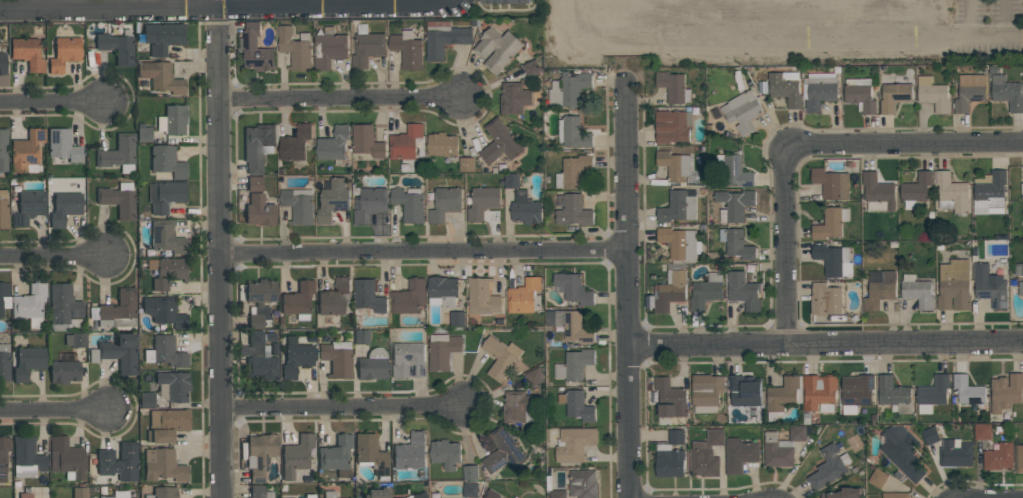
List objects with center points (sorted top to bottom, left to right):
building: (505, 2)
road: (172, 3)
road: (365, 3)
road: (30, 4)
road: (224, 6)
road: (891, 18)
road: (968, 18)
road: (1001, 18)
road: (697, 19)
road: (738, 19)
road: (776, 19)
road: (812, 19)
road: (853, 19)
road: (618, 20)
road: (658, 20)
parking lot: (782, 32)
road: (973, 36)
building: (162, 37)
building: (444, 38)
road: (743, 39)
building: (367, 47)
building: (118, 48)
building: (296, 48)
building: (329, 48)
building: (407, 49)
building: (497, 49)
building: (256, 50)
building: (28, 53)
building: (64, 53)
street lamp: (753, 57)
street lamp: (909, 57)
street lamp: (987, 57)
street lamp: (833, 59)
street lamp: (675, 60)
building: (3, 63)
building: (531, 68)
building: (161, 77)
building: (672, 87)
building: (785, 87)
building: (568, 90)
building: (819, 90)
building: (969, 92)
building: (1007, 93)
building: (860, 95)
building: (933, 95)
building: (894, 97)
road: (341, 99)
building: (514, 99)
road: (53, 101)
building: (742, 112)
building: (172, 120)
building: (672, 127)
building: (573, 133)
building: (144, 134)
building: (367, 142)
building: (295, 143)
building: (405, 143)
building: (499, 143)
building: (63, 144)
building: (333, 144)
building: (442, 144)
road: (805, 144)
building: (258, 146)
building: (3, 150)
building: (27, 152)
building: (119, 153)
building: (167, 161)
building: (466, 165)
building: (674, 165)
building: (734, 171)
building: (573, 172)
building: (512, 181)
building: (254, 183)
building: (831, 184)
building: (1022, 189)
building: (989, 190)
building: (916, 192)
building: (878, 193)
building: (952, 194)
building: (165, 195)
building: (119, 200)
building: (332, 200)
building: (482, 200)
building: (369, 204)
building: (409, 204)
building: (444, 204)
building: (298, 205)
building: (734, 205)
building: (679, 206)
building: (28, 207)
building: (65, 208)
building: (3, 209)
building: (525, 209)
building: (260, 210)
building: (573, 211)
building: (1022, 214)
building: (830, 223)
building: (166, 237)
building: (679, 243)
building: (736, 244)
road: (424, 253)
road: (56, 258)
building: (834, 260)
road: (223, 268)
building: (1019, 270)
building: (166, 271)
building: (954, 285)
building: (990, 286)
building: (573, 288)
road: (625, 288)
building: (670, 288)
building: (1020, 288)
building: (879, 289)
building: (917, 291)
building: (443, 292)
building: (705, 292)
building: (743, 292)
building: (4, 293)
building: (368, 296)
building: (333, 297)
building: (482, 297)
building: (524, 297)
building: (409, 298)
building: (298, 300)
building: (826, 300)
building: (260, 301)
building: (30, 305)
building: (63, 306)
building: (119, 309)
building: (164, 311)
building: (457, 319)
building: (500, 321)
building: (570, 325)
building: (361, 336)
building: (270, 337)
building: (76, 340)
road: (824, 344)
building: (274, 348)
building: (165, 351)
building: (442, 351)
building: (119, 352)
building: (296, 357)
building: (260, 358)
building: (501, 358)
building: (337, 359)
building: (408, 360)
building: (4, 362)
building: (28, 362)
building: (373, 365)
building: (574, 365)
building: (64, 371)
building: (535, 376)
building: (175, 384)
building: (745, 390)
building: (967, 390)
building: (1006, 392)
building: (706, 393)
building: (819, 393)
building: (856, 393)
building: (784, 394)
building: (933, 394)
building: (893, 395)
building: (670, 398)
building: (146, 399)
building: (577, 405)
building: (516, 406)
road: (53, 408)
road: (351, 413)
building: (166, 424)
building: (982, 431)
building: (930, 435)
building: (676, 437)
building: (574, 444)
building: (781, 447)
building: (902, 451)
building: (410, 452)
building: (503, 452)
building: (371, 453)
building: (445, 453)
building: (955, 453)
building: (260, 455)
building: (296, 455)
building: (337, 455)
building: (706, 455)
building: (739, 455)
building: (3, 456)
building: (27, 457)
building: (998, 457)
building: (66, 458)
building: (1019, 459)
building: (119, 461)
building: (669, 462)
building: (164, 465)
building: (829, 467)
building: (470, 472)
building: (307, 478)
building: (878, 479)
building: (583, 484)
building: (470, 490)
building: (80, 492)
building: (163, 492)
building: (260, 492)
building: (378, 493)
building: (843, 493)
building: (25, 494)
building: (117, 494)
building: (329, 494)
building: (490, 494)
building: (558, 494)
building: (419, 495)
building: (895, 495)
building: (309, 496)
building: (515, 497)

